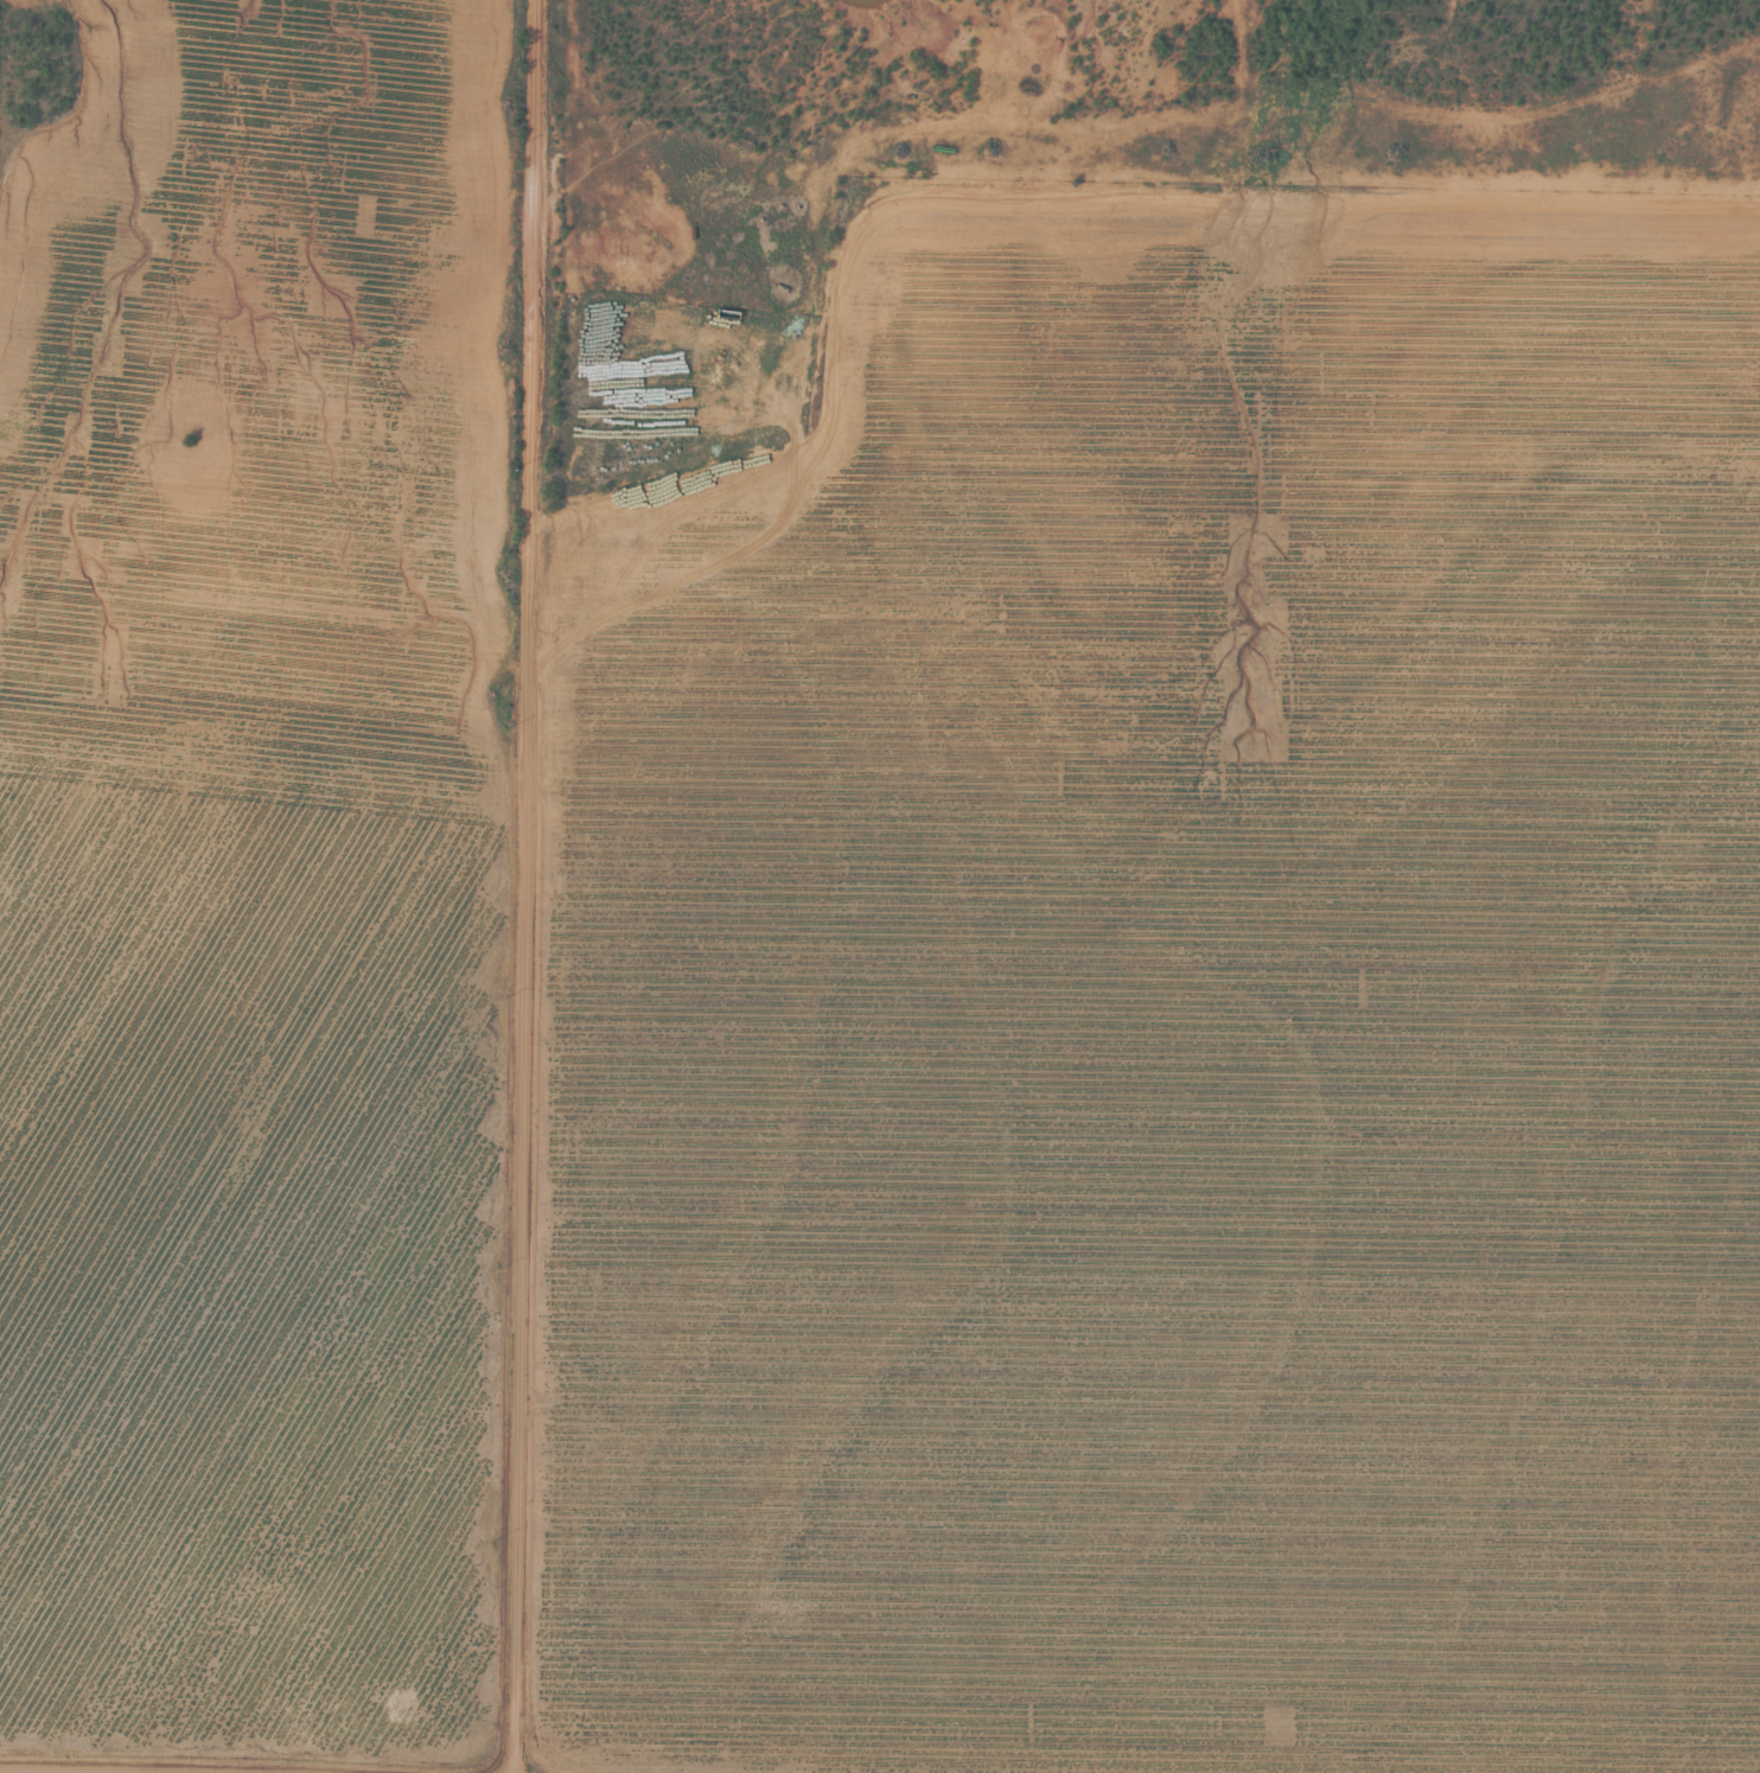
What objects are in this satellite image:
road: (484, 886)

